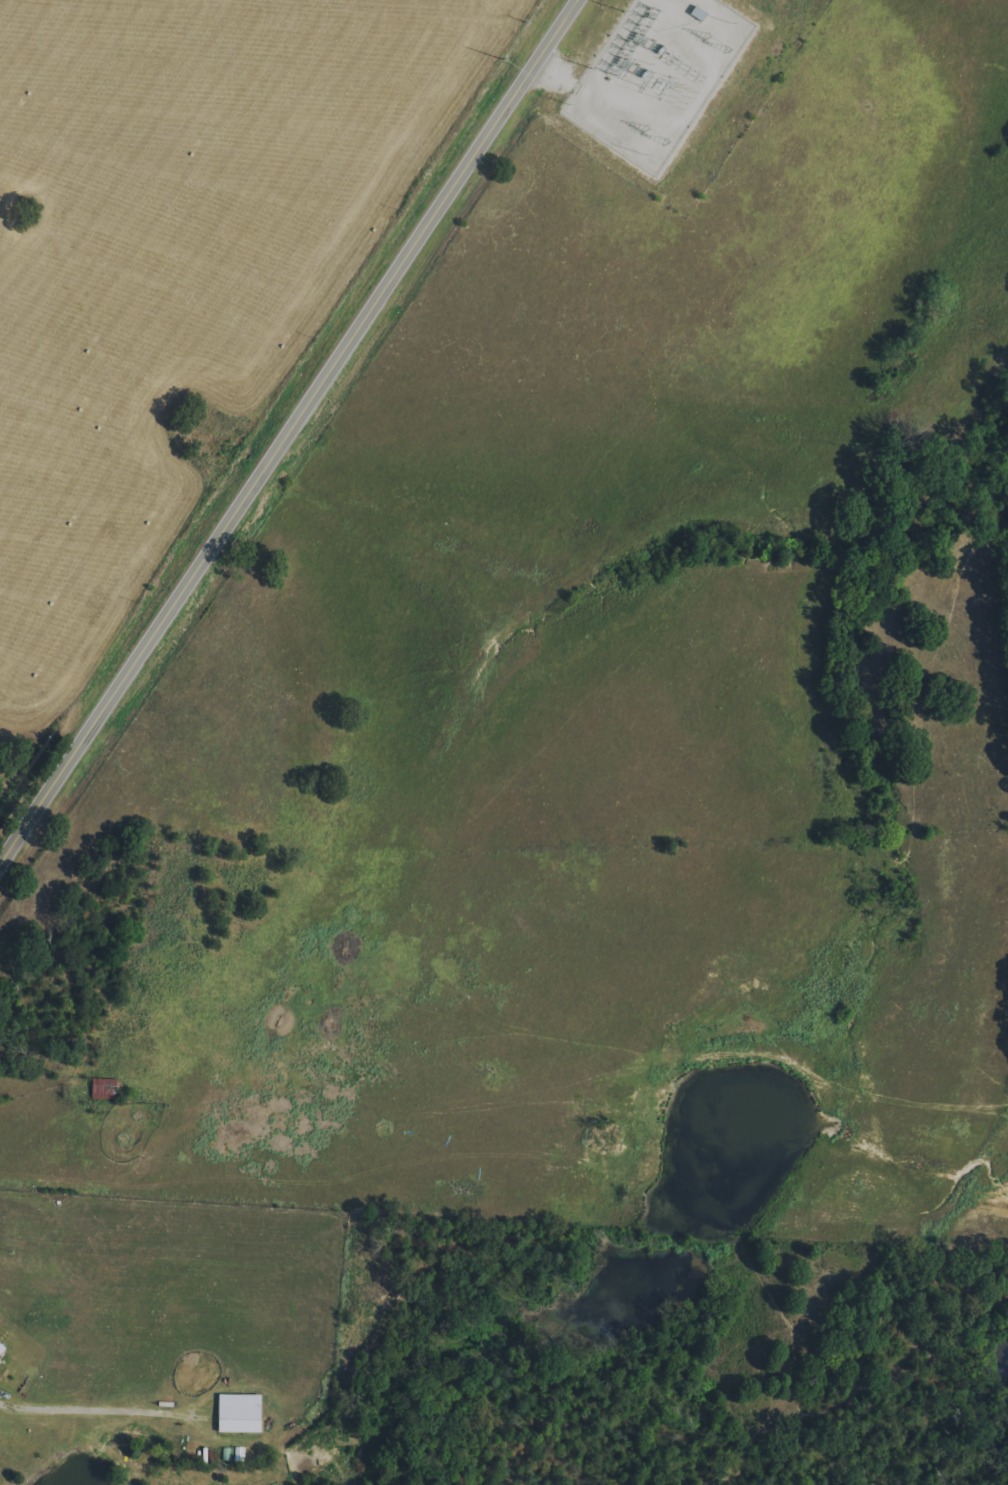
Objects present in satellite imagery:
power substation: (655, 75)
road: (289, 431)
building: (1, 1349)
building: (0, 1361)
building: (240, 1413)

